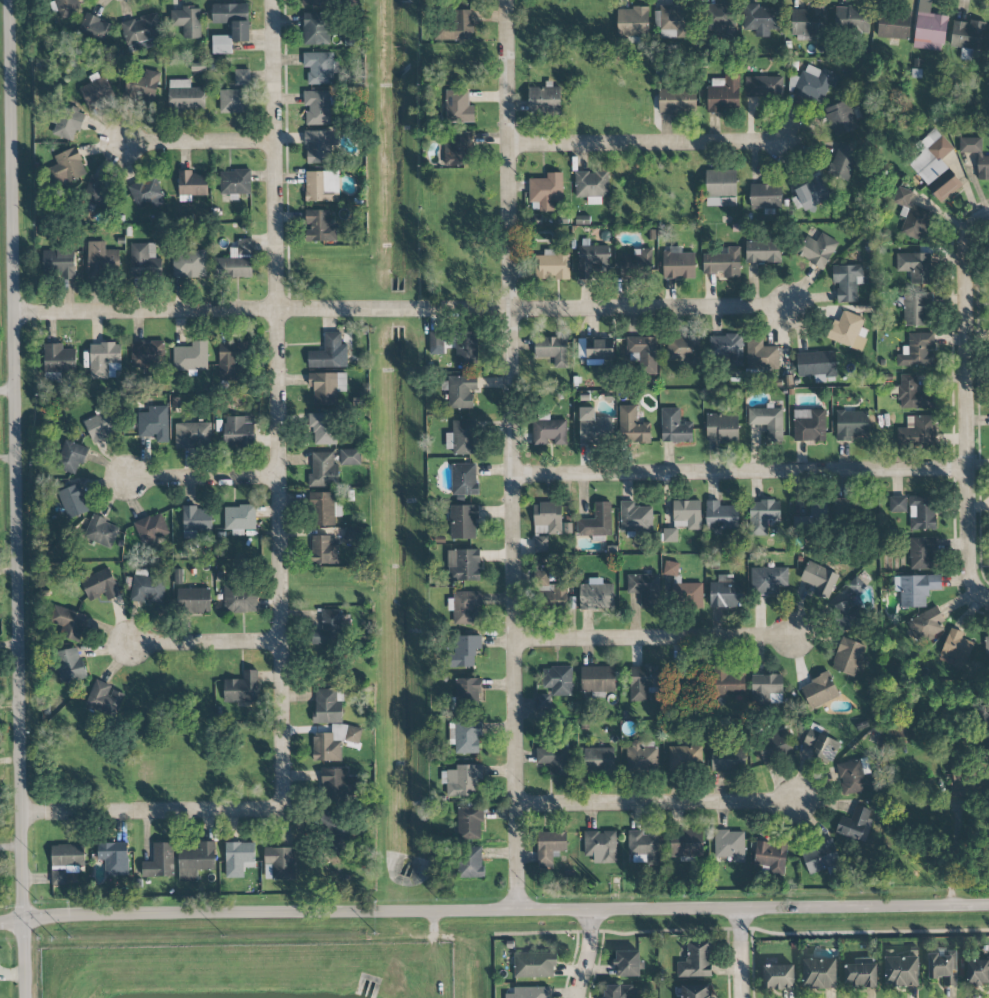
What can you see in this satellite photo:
building: (314, 2)
building: (67, 7)
building: (720, 16)
building: (851, 18)
building: (233, 19)
building: (761, 19)
building: (187, 21)
building: (807, 21)
building: (682, 24)
building: (457, 26)
building: (893, 26)
building: (95, 28)
building: (316, 29)
building: (929, 31)
building: (141, 32)
building: (968, 35)
building: (221, 44)
building: (988, 44)
building: (320, 67)
building: (813, 83)
building: (764, 86)
building: (142, 87)
building: (97, 90)
building: (724, 93)
building: (236, 95)
building: (185, 96)
building: (544, 99)
building: (677, 101)
building: (459, 105)
building: (840, 118)
building: (68, 124)
road: (198, 142)
road: (650, 142)
building: (318, 146)
building: (457, 149)
building: (842, 162)
building: (68, 166)
building: (937, 167)
building: (982, 167)
building: (234, 184)
building: (592, 184)
building: (192, 185)
building: (322, 186)
building: (720, 187)
building: (546, 191)
building: (146, 193)
building: (94, 194)
building: (810, 194)
building: (765, 196)
building: (911, 215)
road: (985, 216)
building: (319, 226)
building: (817, 249)
building: (763, 251)
building: (102, 259)
building: (591, 260)
building: (144, 261)
building: (236, 261)
building: (59, 263)
building: (189, 263)
building: (721, 263)
building: (553, 264)
building: (678, 264)
building: (634, 266)
building: (915, 267)
building: (847, 281)
road: (402, 308)
building: (916, 309)
building: (848, 331)
building: (436, 342)
building: (466, 348)
building: (593, 349)
building: (683, 349)
building: (727, 349)
building: (552, 350)
building: (917, 351)
building: (146, 353)
building: (329, 353)
building: (645, 353)
building: (191, 356)
building: (763, 356)
building: (59, 359)
building: (104, 360)
building: (227, 361)
building: (326, 387)
building: (460, 391)
road: (8, 392)
building: (913, 394)
road: (965, 398)
road: (280, 405)
building: (767, 421)
building: (154, 423)
building: (100, 425)
building: (809, 425)
building: (851, 425)
building: (632, 426)
building: (594, 427)
building: (674, 427)
building: (323, 428)
building: (721, 428)
building: (239, 430)
building: (548, 432)
building: (918, 433)
building: (192, 435)
building: (461, 437)
building: (72, 457)
building: (350, 457)
road: (516, 459)
building: (323, 471)
road: (742, 473)
road: (207, 477)
building: (464, 480)
road: (17, 498)
building: (73, 501)
building: (897, 504)
building: (325, 509)
building: (922, 513)
building: (686, 514)
building: (721, 516)
building: (763, 516)
building: (635, 518)
building: (239, 519)
building: (547, 519)
building: (196, 521)
building: (463, 522)
building: (596, 522)
building: (152, 528)
building: (100, 531)
building: (670, 535)
building: (540, 544)
building: (324, 549)
building: (922, 553)
building: (463, 565)
building: (819, 579)
building: (767, 580)
building: (99, 585)
building: (856, 585)
building: (146, 587)
building: (644, 589)
building: (917, 589)
building: (551, 592)
building: (726, 592)
road: (980, 593)
building: (596, 595)
building: (690, 595)
building: (240, 599)
building: (194, 600)
building: (465, 608)
building: (846, 615)
building: (70, 623)
building: (927, 625)
building: (333, 627)
road: (657, 638)
road: (209, 644)
building: (987, 647)
building: (957, 648)
building: (464, 652)
building: (849, 657)
building: (69, 664)
building: (597, 679)
building: (558, 680)
building: (730, 682)
building: (640, 684)
building: (241, 688)
building: (767, 689)
building: (819, 690)
building: (468, 692)
building: (104, 699)
building: (542, 704)
building: (328, 706)
building: (465, 736)
building: (334, 742)
building: (820, 745)
building: (775, 747)
building: (642, 756)
building: (684, 757)
building: (728, 759)
building: (554, 760)
building: (598, 760)
building: (853, 777)
building: (462, 780)
building: (333, 784)
road: (658, 803)
road: (153, 813)
building: (469, 823)
building: (854, 824)
building: (339, 839)
building: (684, 843)
building: (730, 845)
building: (600, 846)
building: (643, 846)
building: (549, 847)
road: (953, 855)
building: (771, 856)
building: (820, 856)
building: (114, 858)
building: (238, 858)
building: (195, 860)
building: (65, 861)
building: (159, 861)
building: (470, 862)
building: (279, 863)
road: (494, 919)
road: (741, 954)
road: (576, 959)
building: (696, 960)
building: (627, 964)
building: (534, 965)
building: (943, 967)
building: (901, 971)
building: (978, 972)
building: (819, 973)
building: (861, 973)
building: (778, 976)
building: (620, 991)
building: (695, 991)
building: (531, 992)

